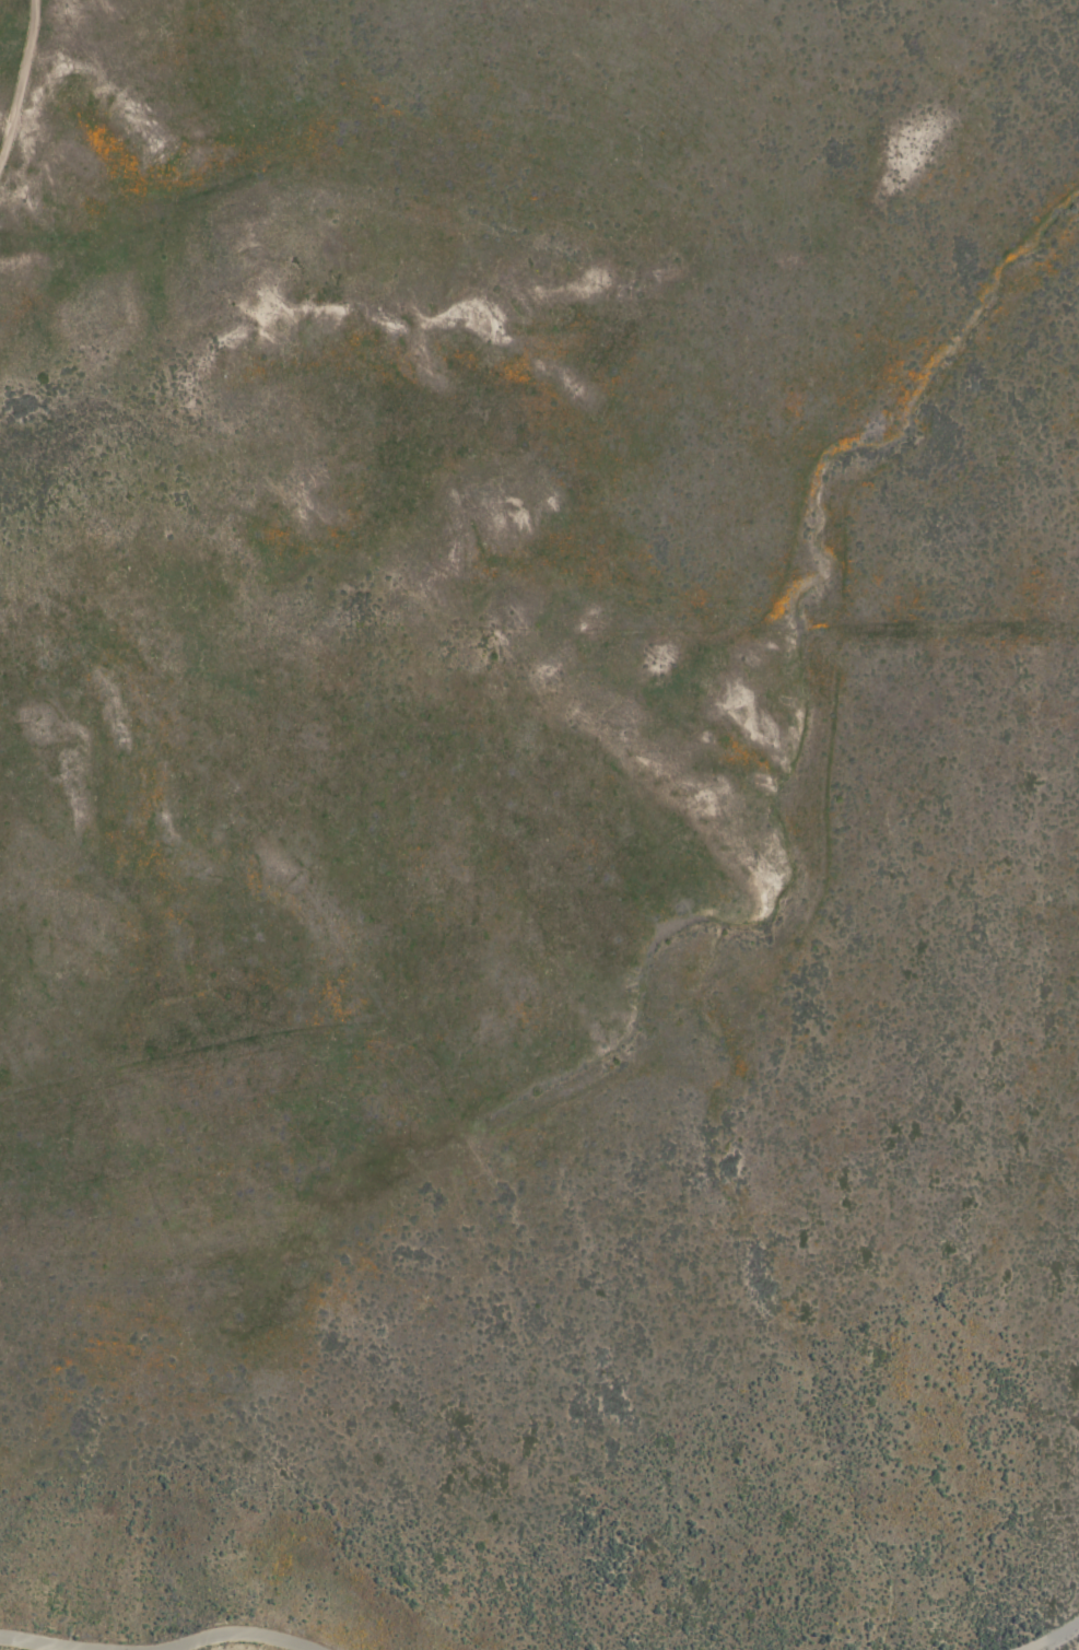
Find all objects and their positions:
road: (27, 85)
road: (239, 1637)
road: (1059, 1640)
road: (47, 1643)

